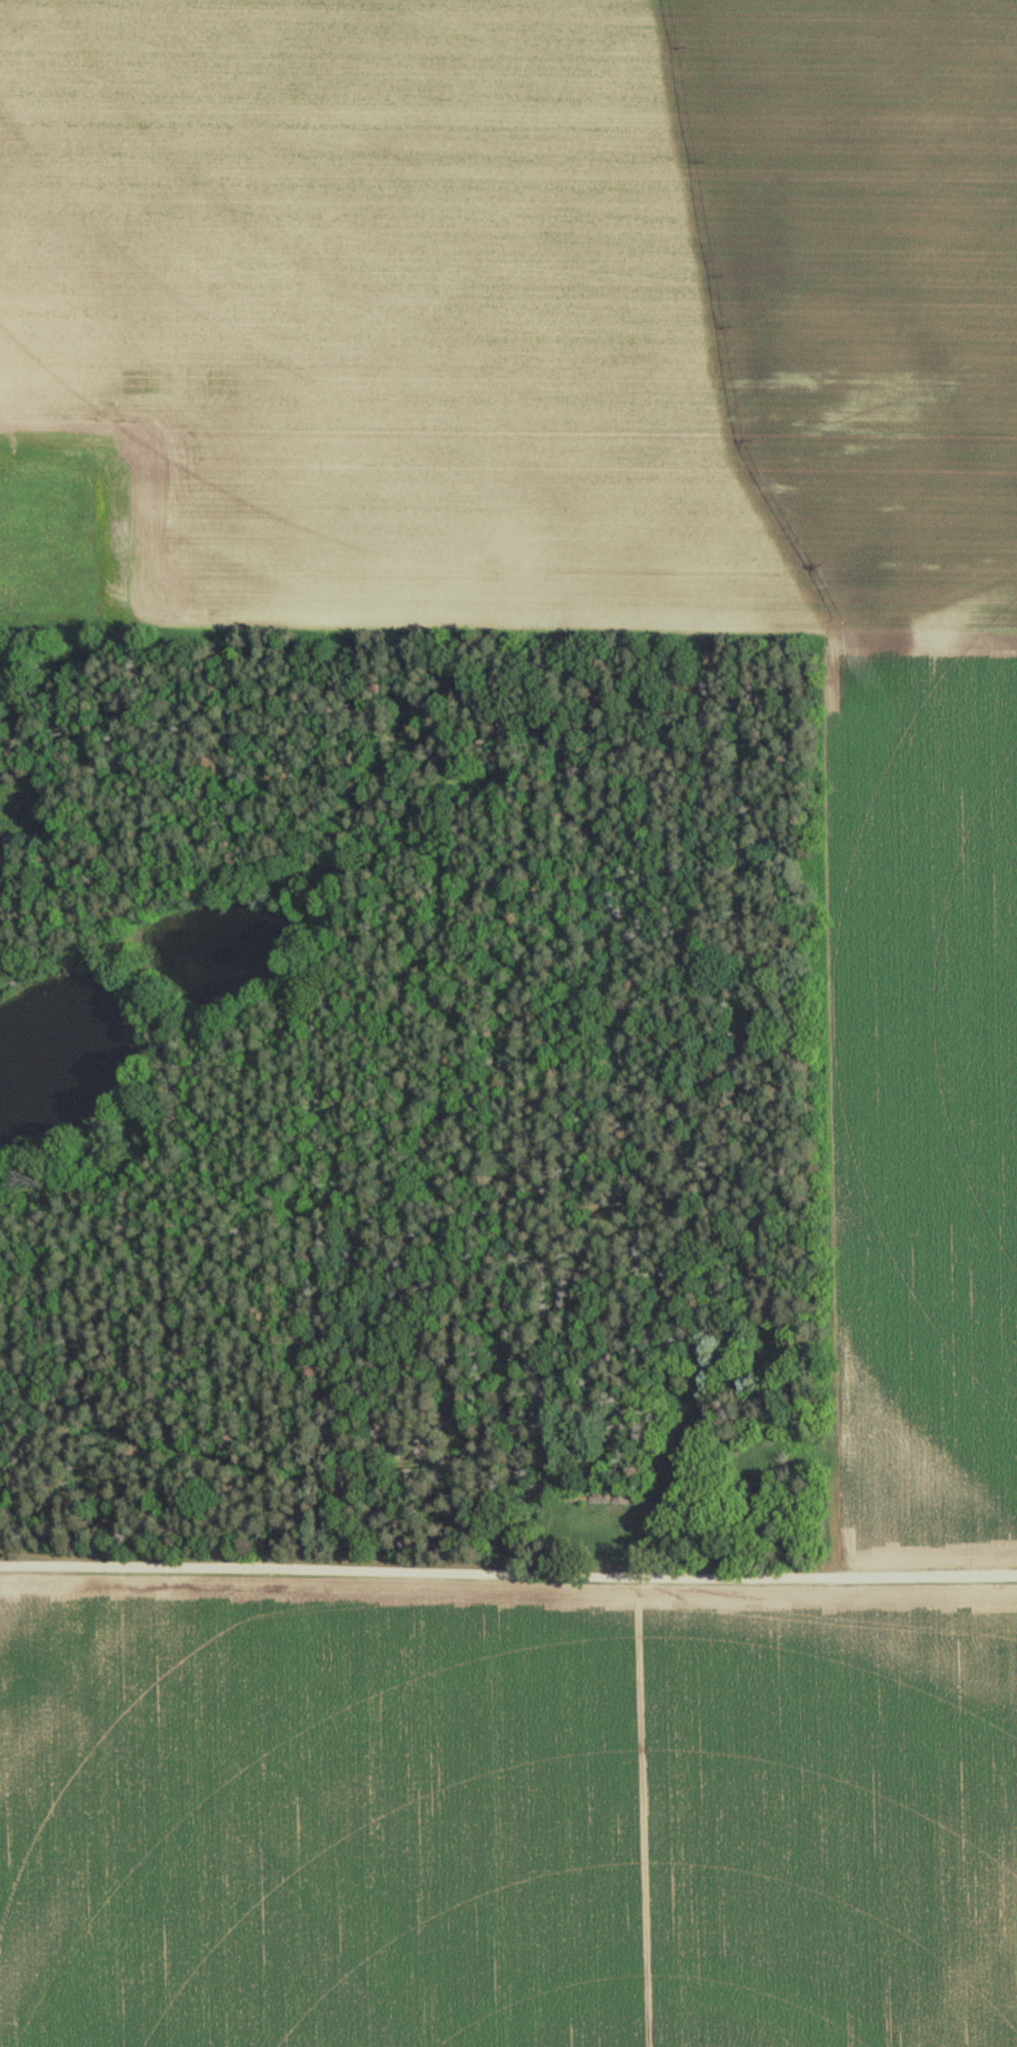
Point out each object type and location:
road: (508, 1577)

